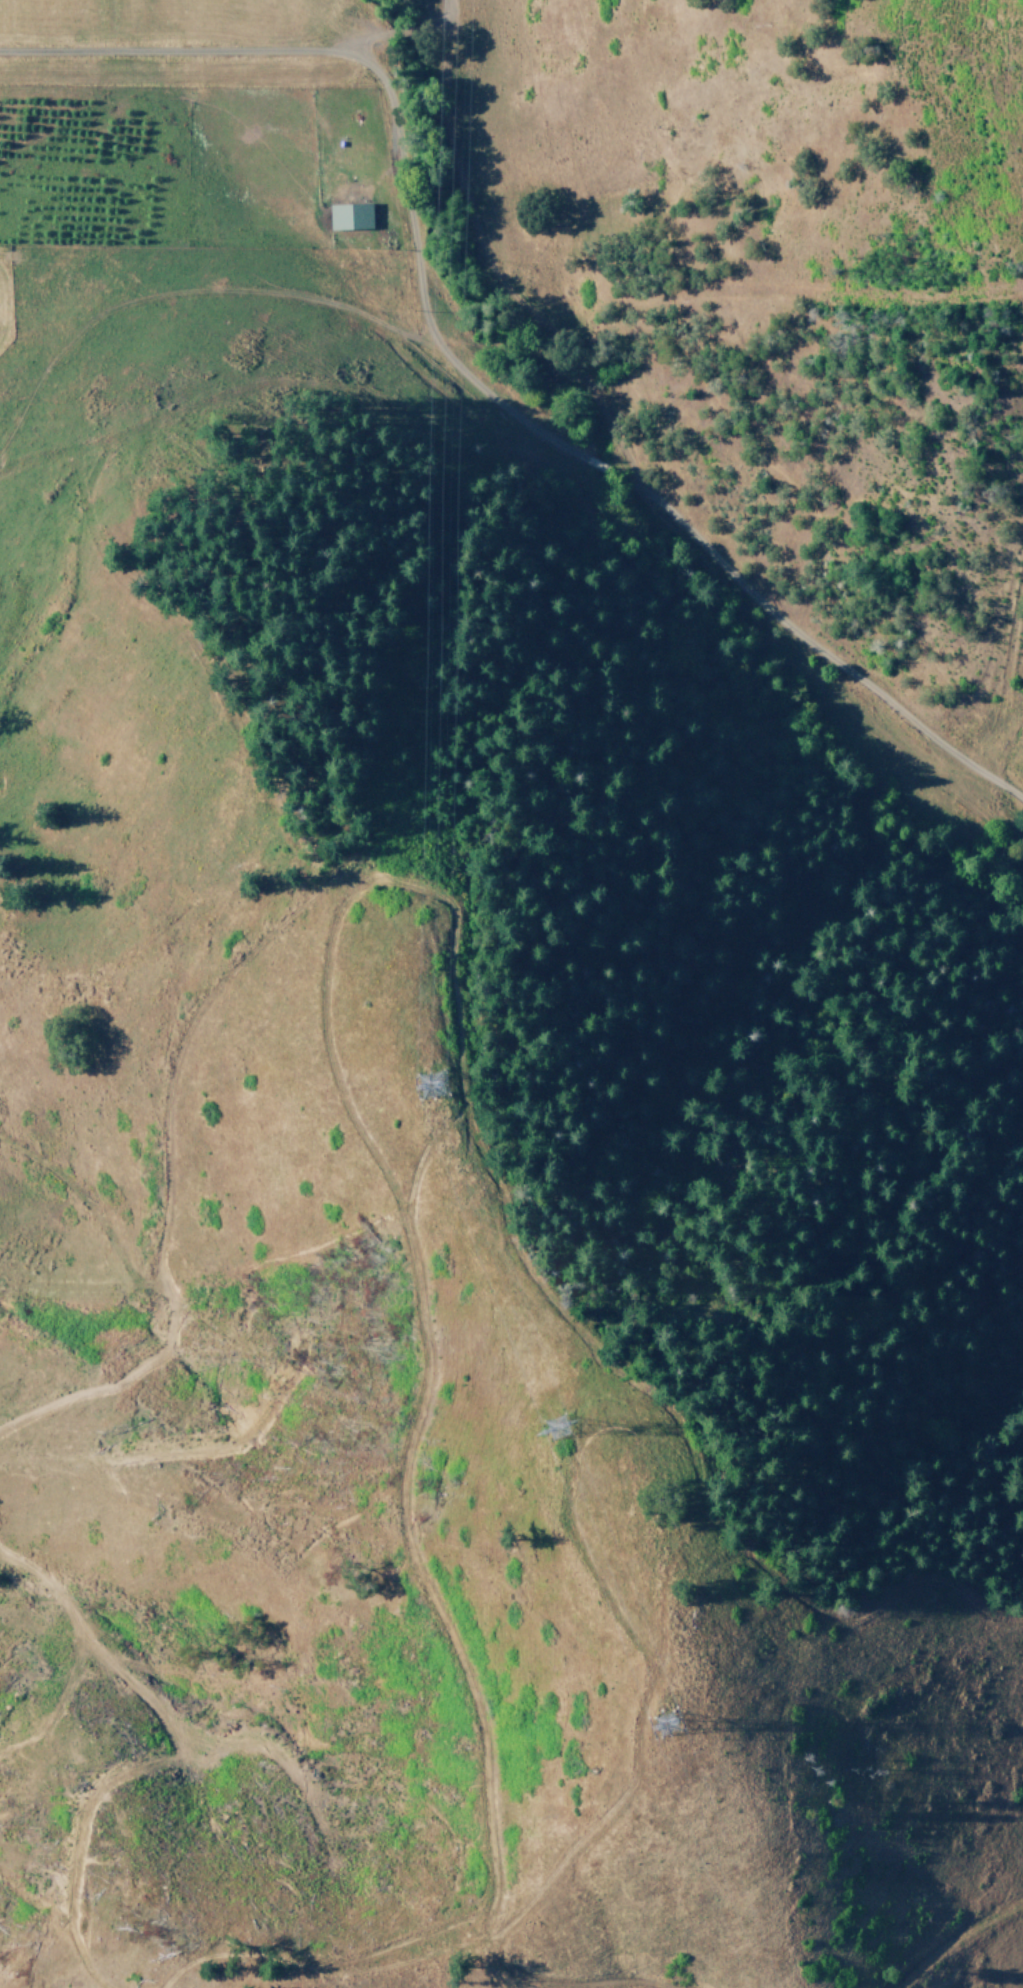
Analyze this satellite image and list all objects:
road: (404, 121)
building: (351, 216)
road: (801, 644)
power tower: (431, 1085)
power tower: (556, 1429)
power tower: (660, 1726)

